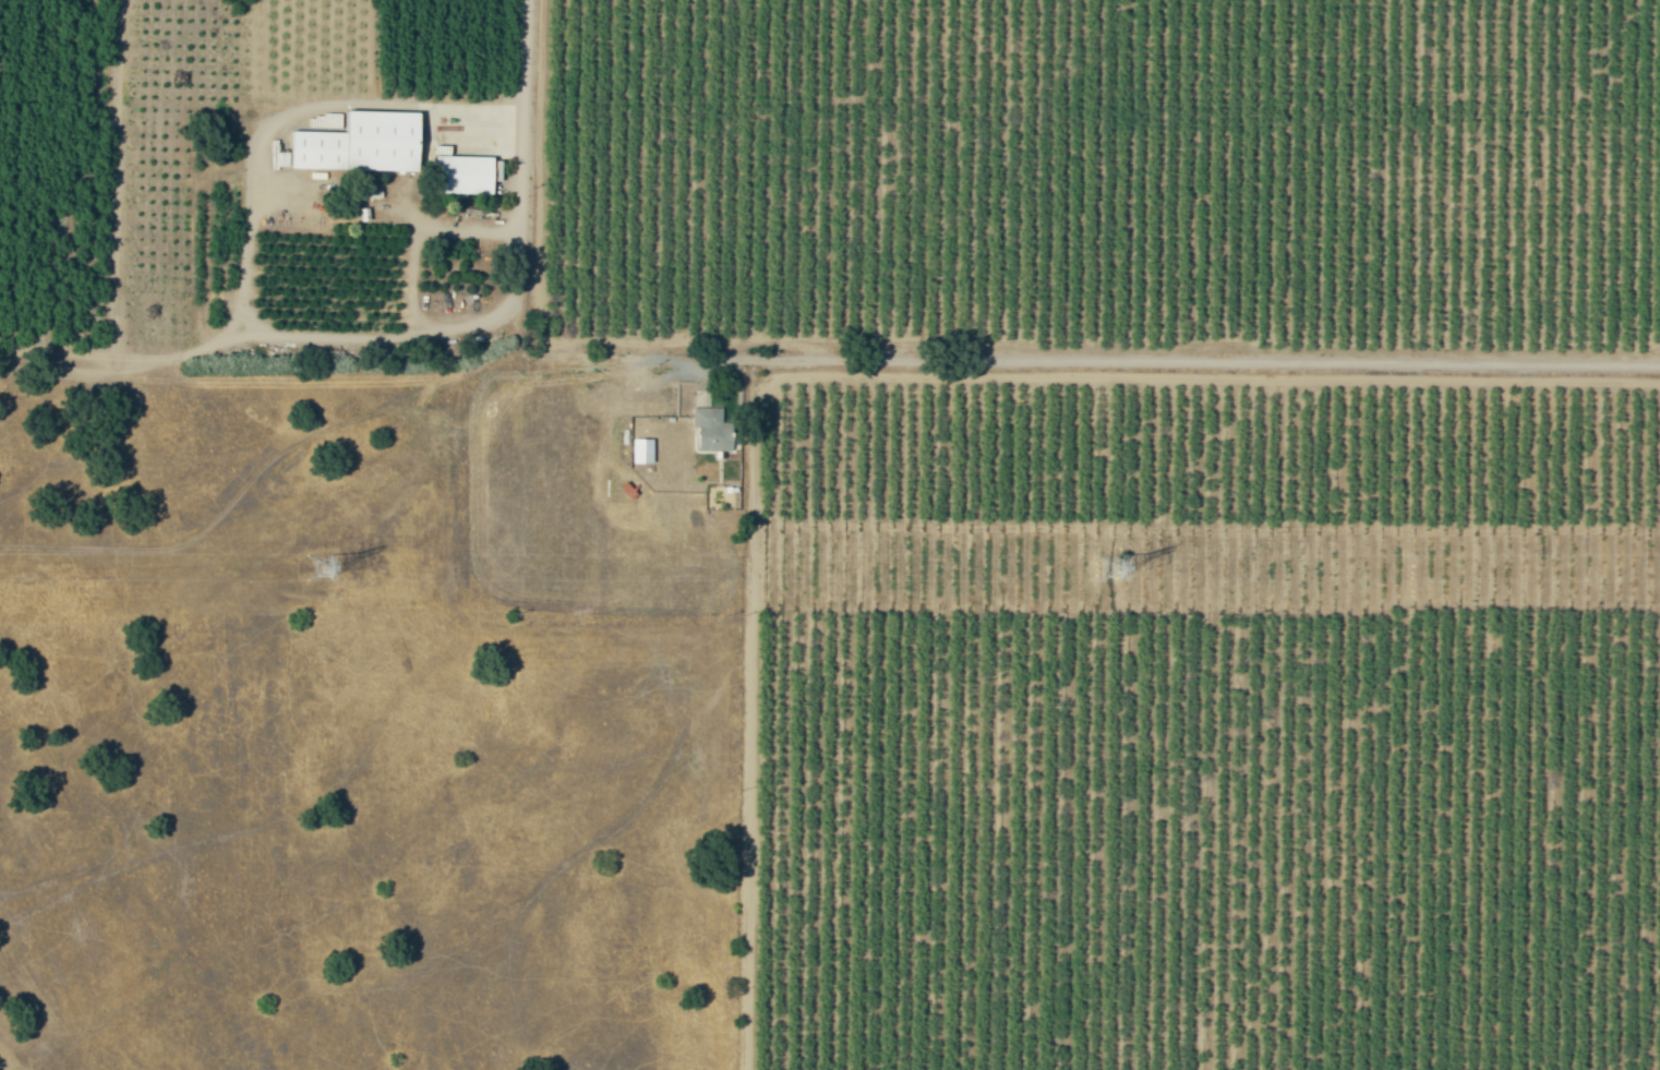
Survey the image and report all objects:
building: (362, 143)
road: (521, 153)
building: (465, 173)
road: (250, 232)
road: (1147, 361)
building: (711, 421)
building: (643, 450)
power tower: (322, 565)
power tower: (1111, 566)

